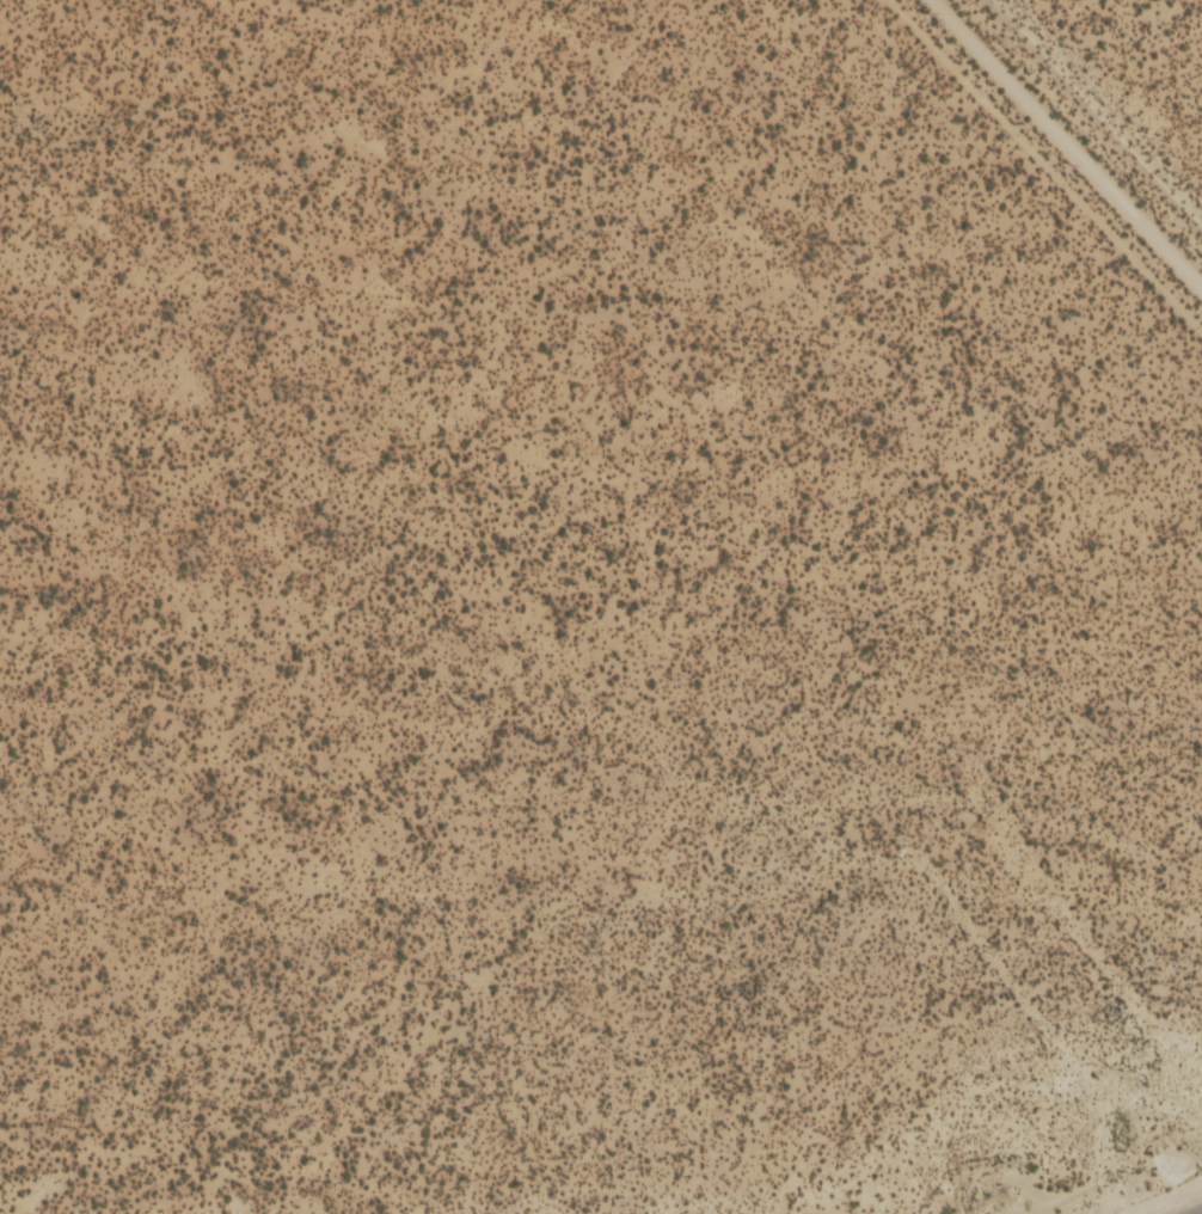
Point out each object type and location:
building: (311, 33)
building: (33, 73)
road: (1066, 151)
building: (176, 182)
building: (68, 234)
building: (538, 235)
building: (965, 257)
building: (0, 313)
building: (102, 370)
building: (1153, 385)
building: (1114, 429)
building: (1155, 461)
building: (7, 716)
building: (312, 742)
building: (1, 749)
building: (124, 816)
building: (11, 863)

